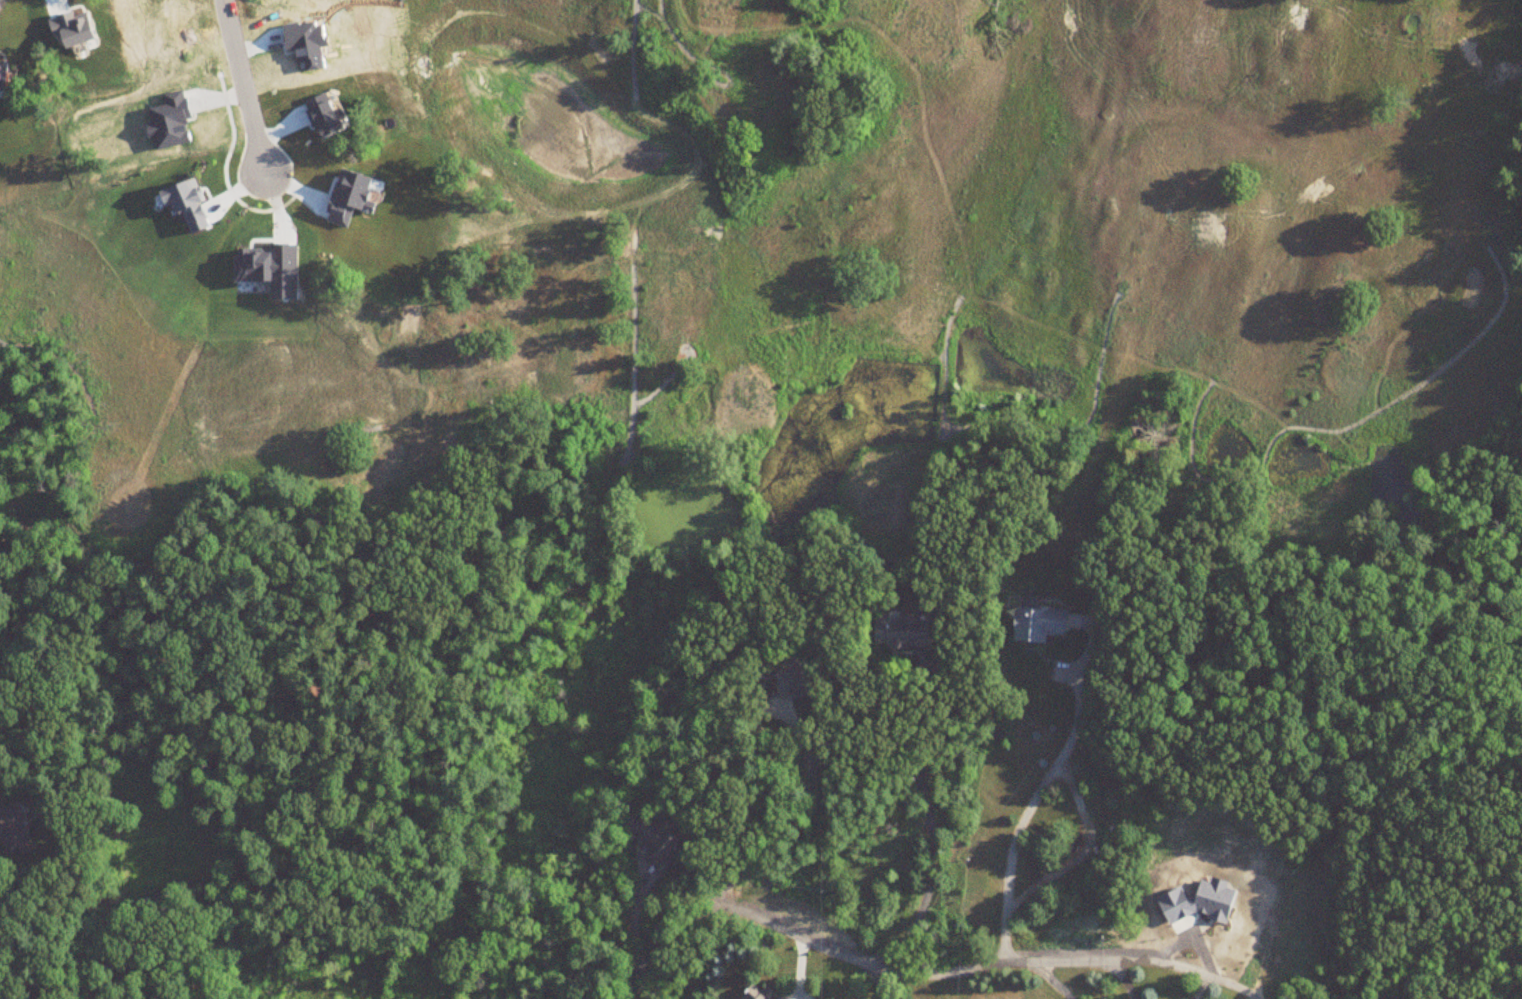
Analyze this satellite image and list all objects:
road: (243, 84)
building: (816, 380)
building: (1038, 625)
building: (901, 631)
building: (792, 683)
road: (1027, 812)
road: (796, 819)
building: (10, 829)
road: (931, 831)
building: (656, 843)
road: (918, 975)
road: (39, 979)
road: (875, 979)
road: (1122, 979)
road: (1202, 988)
building: (755, 992)

